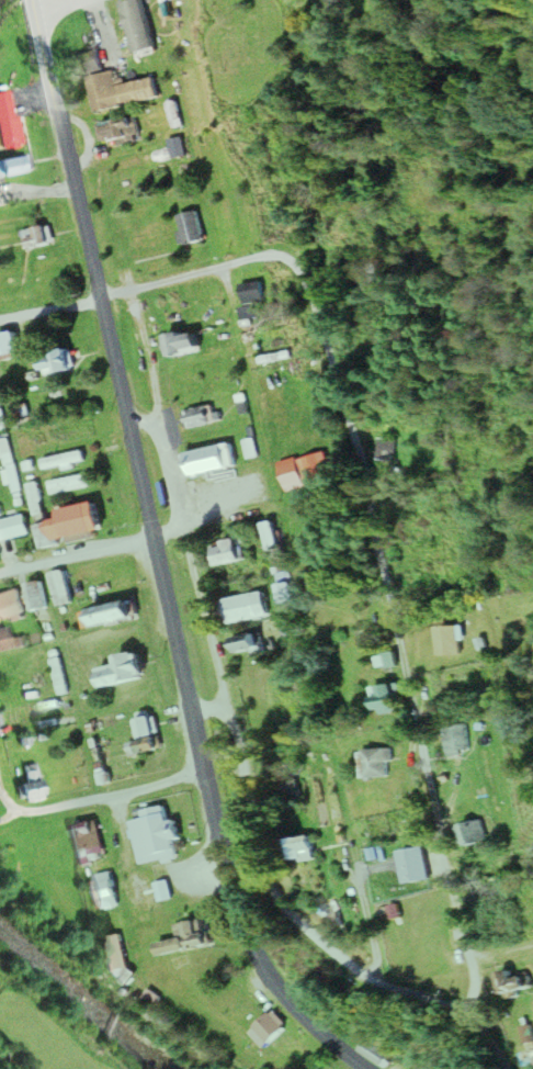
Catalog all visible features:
road: (57, 9)
building: (92, 60)
building: (118, 91)
building: (9, 122)
building: (118, 131)
building: (14, 166)
building: (190, 227)
building: (35, 236)
building: (375, 278)
building: (251, 293)
building: (180, 344)
building: (8, 347)
building: (54, 362)
road: (115, 380)
building: (200, 417)
road: (140, 418)
building: (319, 418)
building: (63, 460)
building: (207, 461)
road: (356, 461)
building: (314, 466)
building: (11, 472)
building: (68, 484)
building: (34, 493)
building: (71, 522)
building: (13, 527)
road: (166, 530)
building: (270, 536)
building: (310, 545)
building: (224, 551)
road: (73, 558)
building: (60, 587)
building: (285, 593)
building: (35, 596)
building: (10, 605)
building: (243, 608)
building: (106, 615)
building: (4, 640)
building: (451, 641)
building: (246, 644)
building: (121, 672)
building: (58, 676)
building: (387, 699)
road: (487, 705)
road: (206, 708)
building: (15, 717)
building: (145, 728)
building: (457, 739)
building: (143, 749)
road: (241, 759)
building: (375, 763)
building: (30, 795)
road: (95, 799)
building: (472, 834)
building: (154, 839)
building: (90, 843)
building: (297, 851)
building: (416, 865)
road: (361, 881)
building: (104, 890)
building: (141, 892)
building: (163, 893)
road: (249, 933)
building: (185, 939)
building: (115, 959)
building: (177, 964)
building: (514, 981)
river: (94, 1017)
building: (264, 1029)
building: (371, 1053)

